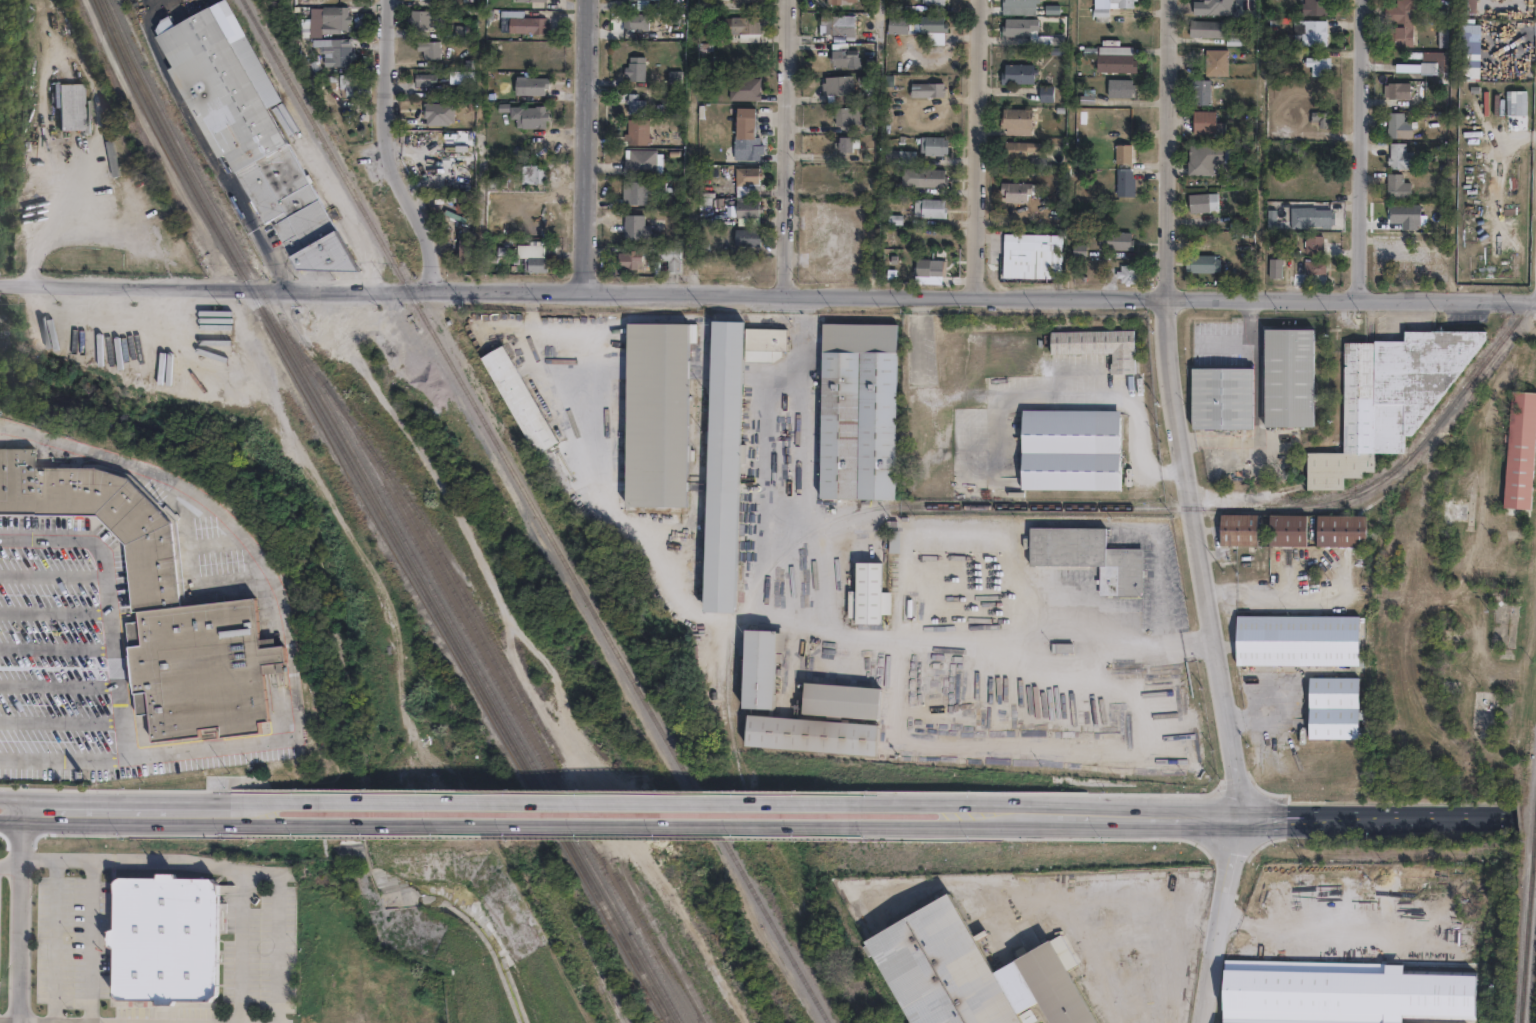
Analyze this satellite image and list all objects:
building: (532, 0)
building: (742, 0)
building: (837, 1)
building: (933, 2)
building: (644, 3)
building: (1119, 4)
building: (1017, 7)
building: (1210, 7)
building: (1314, 7)
building: (1467, 7)
building: (1442, 8)
building: (1099, 14)
building: (423, 15)
building: (330, 17)
building: (529, 19)
building: (629, 23)
building: (1398, 23)
building: (744, 25)
building: (835, 25)
building: (921, 27)
building: (1017, 27)
building: (1212, 32)
building: (1310, 32)
building: (1442, 34)
building: (1042, 41)
building: (428, 46)
building: (334, 50)
building: (1469, 50)
building: (1113, 51)
building: (840, 54)
building: (1431, 58)
building: (1215, 62)
building: (1113, 64)
building: (1319, 65)
building: (635, 68)
building: (1016, 74)
building: (424, 76)
building: (531, 82)
building: (745, 87)
building: (352, 88)
building: (837, 89)
building: (1118, 89)
building: (925, 90)
building: (1396, 90)
building: (1200, 92)
building: (1045, 94)
building: (1085, 97)
building: (635, 103)
building: (66, 105)
building: (1524, 105)
building: (439, 112)
building: (528, 114)
building: (844, 116)
building: (1319, 118)
building: (1014, 121)
building: (1203, 122)
building: (1397, 126)
building: (637, 131)
building: (747, 135)
building: (255, 141)
building: (846, 143)
building: (932, 145)
road: (588, 147)
road: (783, 148)
road: (880, 148)
road: (390, 149)
road: (977, 149)
road: (1359, 150)
building: (1016, 151)
building: (1120, 154)
building: (898, 157)
building: (1399, 157)
building: (1203, 158)
building: (643, 161)
building: (431, 169)
building: (532, 172)
building: (747, 174)
building: (921, 178)
building: (458, 181)
building: (1123, 184)
building: (1396, 187)
building: (637, 191)
building: (1013, 192)
building: (1202, 202)
building: (473, 205)
building: (747, 208)
building: (928, 209)
road: (54, 214)
building: (1310, 217)
building: (641, 232)
building: (1243, 237)
building: (750, 238)
building: (1116, 242)
building: (1315, 246)
building: (465, 250)
building: (539, 257)
building: (632, 259)
building: (1026, 259)
building: (1203, 266)
building: (936, 269)
building: (1277, 270)
building: (1316, 270)
building: (1127, 275)
road: (767, 296)
building: (765, 344)
building: (1099, 346)
building: (1289, 377)
building: (1391, 396)
building: (1223, 398)
building: (518, 399)
road: (1257, 402)
building: (858, 411)
building: (655, 413)
road: (806, 423)
building: (1521, 447)
building: (1070, 450)
building: (722, 467)
railway: (416, 507)
railway: (535, 511)
building: (1453, 511)
road: (1194, 513)
railway: (379, 514)
building: (101, 515)
building: (1239, 530)
building: (1287, 530)
building: (1341, 531)
building: (895, 542)
road: (985, 542)
building: (1088, 557)
road: (54, 576)
railway: (431, 586)
building: (868, 595)
road: (1272, 597)
road: (56, 608)
road: (285, 618)
road: (926, 618)
road: (114, 624)
building: (1452, 637)
building: (1298, 640)
road: (1172, 643)
road: (941, 647)
road: (58, 648)
building: (1062, 648)
building: (201, 667)
building: (770, 669)
building: (1450, 687)
building: (854, 700)
railway: (511, 707)
building: (1334, 708)
road: (61, 721)
building: (832, 736)
road: (1015, 743)
railway: (546, 747)
road: (62, 757)
railway: (1535, 791)
road: (542, 800)
road: (912, 801)
road: (1268, 813)
road: (133, 814)
railway: (1534, 814)
road: (542, 822)
road: (912, 822)
road: (10, 862)
road: (222, 867)
road: (1234, 904)
road: (20, 917)
road: (1326, 917)
railway: (1526, 927)
railway: (631, 931)
building: (163, 938)
road: (55, 941)
road: (89, 942)
road: (240, 947)
railway: (587, 949)
railway: (578, 951)
building: (969, 973)
building: (1337, 992)

